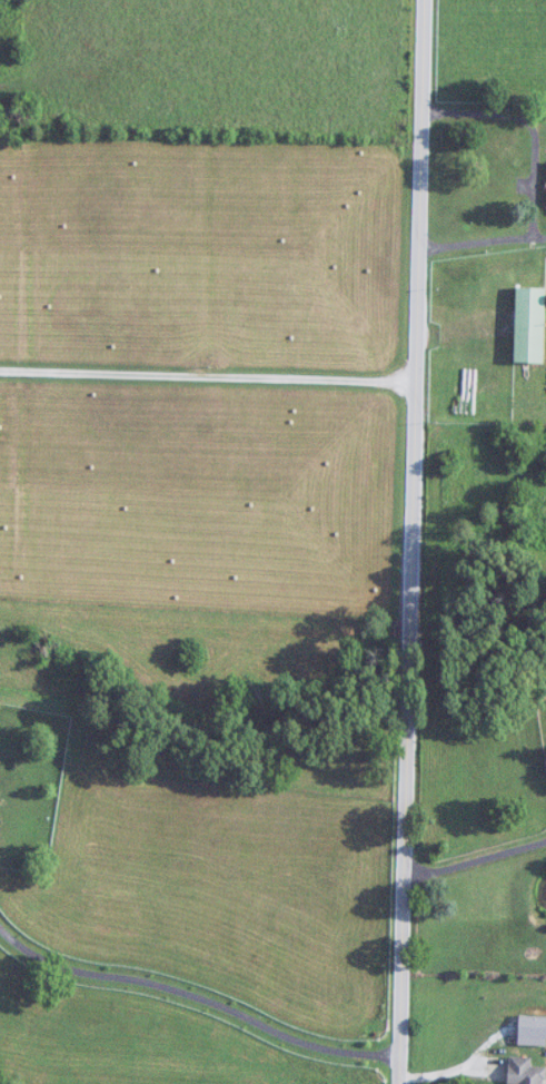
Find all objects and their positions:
road: (532, 178)
building: (529, 326)
road: (209, 376)
road: (414, 542)
road: (476, 859)
road: (198, 997)
building: (525, 1071)

